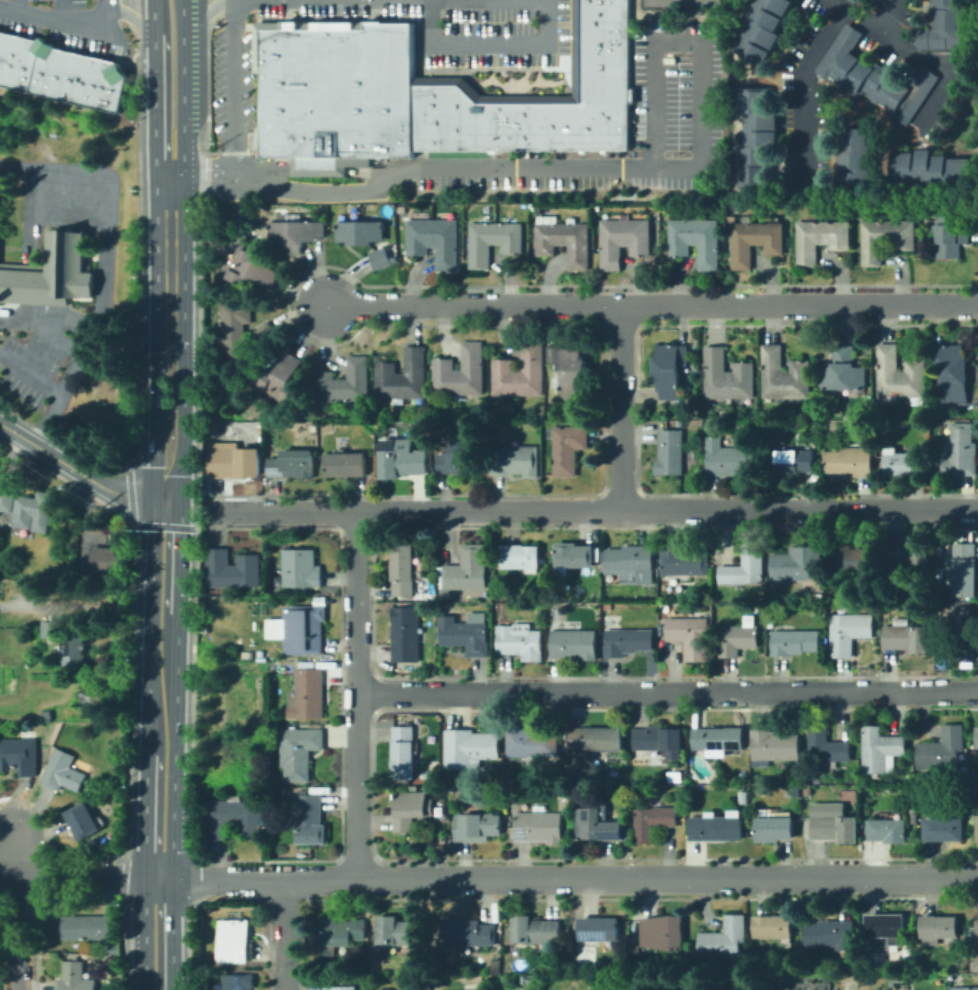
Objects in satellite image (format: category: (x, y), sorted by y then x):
building: (603, 1)
building: (853, 1)
road: (18, 6)
road: (63, 11)
building: (601, 13)
road: (200, 15)
road: (152, 16)
road: (887, 17)
road: (134, 19)
road: (63, 21)
parking lot: (68, 23)
building: (948, 28)
building: (765, 29)
building: (1, 37)
building: (601, 37)
road: (490, 45)
road: (195, 46)
road: (913, 54)
building: (11, 59)
building: (601, 61)
building: (29, 65)
road: (181, 66)
building: (45, 69)
building: (57, 74)
building: (66, 75)
building: (874, 77)
building: (76, 78)
building: (102, 85)
road: (233, 88)
building: (604, 88)
building: (336, 94)
road: (805, 94)
parking lot: (234, 95)
road: (153, 104)
building: (447, 114)
building: (494, 123)
building: (517, 123)
building: (539, 123)
building: (562, 124)
building: (582, 125)
building: (620, 127)
building: (601, 128)
building: (757, 138)
road: (177, 153)
building: (856, 159)
road: (571, 169)
building: (932, 169)
road: (109, 196)
road: (70, 207)
building: (401, 210)
road: (30, 216)
building: (950, 222)
road: (168, 232)
building: (349, 232)
building: (372, 232)
building: (306, 235)
building: (837, 235)
building: (902, 235)
building: (281, 236)
building: (682, 236)
building: (420, 237)
building: (639, 237)
building: (772, 237)
building: (510, 238)
building: (549, 238)
building: (809, 240)
building: (874, 242)
building: (708, 243)
building: (446, 244)
building: (482, 244)
building: (613, 244)
building: (744, 244)
building: (950, 244)
building: (577, 245)
building: (382, 259)
building: (253, 270)
building: (50, 275)
road: (648, 305)
road: (95, 320)
building: (235, 329)
building: (265, 334)
road: (58, 338)
building: (554, 355)
building: (672, 356)
building: (472, 369)
parking lot: (38, 370)
building: (531, 370)
building: (835, 370)
building: (854, 370)
building: (574, 371)
building: (889, 371)
building: (717, 372)
building: (773, 372)
building: (953, 372)
building: (413, 373)
road: (31, 376)
building: (445, 377)
building: (282, 378)
building: (504, 378)
building: (915, 378)
building: (743, 379)
building: (800, 379)
building: (356, 381)
building: (387, 381)
building: (668, 383)
building: (328, 386)
road: (155, 395)
road: (182, 395)
road: (620, 408)
building: (725, 414)
building: (580, 422)
building: (680, 424)
building: (212, 425)
road: (47, 427)
building: (710, 427)
building: (568, 448)
building: (671, 452)
building: (960, 452)
building: (461, 458)
building: (730, 459)
building: (402, 460)
building: (515, 460)
building: (851, 460)
building: (789, 461)
building: (235, 463)
building: (904, 463)
building: (293, 464)
building: (346, 465)
road: (79, 473)
traffic signals: (168, 499)
road: (190, 505)
building: (28, 509)
road: (595, 511)
road: (165, 554)
building: (575, 556)
building: (907, 557)
building: (522, 558)
building: (630, 560)
building: (854, 560)
building: (684, 561)
building: (109, 562)
building: (798, 564)
building: (745, 567)
building: (302, 568)
building: (232, 570)
building: (404, 570)
building: (965, 570)
building: (928, 572)
building: (467, 573)
building: (587, 573)
road: (81, 606)
building: (552, 607)
building: (663, 607)
building: (495, 617)
building: (605, 620)
building: (53, 629)
building: (304, 629)
building: (848, 632)
building: (965, 632)
building: (406, 634)
building: (466, 634)
building: (691, 635)
building: (907, 637)
building: (739, 638)
building: (792, 640)
building: (521, 641)
building: (628, 642)
building: (575, 644)
building: (76, 651)
building: (435, 655)
road: (161, 685)
road: (666, 690)
building: (307, 695)
road: (355, 695)
building: (93, 700)
building: (47, 716)
building: (57, 725)
building: (977, 727)
building: (596, 739)
building: (718, 740)
building: (658, 741)
building: (532, 743)
building: (773, 747)
building: (827, 747)
building: (470, 748)
building: (880, 750)
building: (942, 750)
building: (299, 751)
building: (404, 752)
building: (19, 756)
building: (63, 772)
building: (811, 789)
building: (594, 791)
building: (637, 791)
building: (742, 797)
building: (566, 804)
building: (411, 809)
building: (914, 815)
building: (968, 815)
building: (234, 818)
road: (158, 819)
building: (310, 819)
building: (84, 821)
building: (653, 822)
building: (597, 823)
building: (835, 823)
building: (478, 826)
building: (540, 827)
building: (717, 827)
building: (774, 829)
building: (944, 829)
building: (889, 830)
road: (78, 876)
road: (567, 879)
road: (18, 913)
building: (90, 927)
building: (886, 927)
building: (774, 928)
building: (600, 929)
building: (937, 929)
building: (536, 930)
building: (402, 931)
building: (469, 932)
building: (663, 932)
building: (339, 933)
road: (157, 934)
road: (283, 935)
building: (832, 935)
building: (724, 939)
building: (235, 941)
building: (977, 941)
building: (117, 948)
building: (496, 966)
building: (874, 966)
building: (597, 968)
building: (75, 977)
building: (238, 981)
building: (341, 988)
building: (965, 988)
building: (382, 989)
building: (609, 989)
building: (681, 989)
building: (783, 989)

